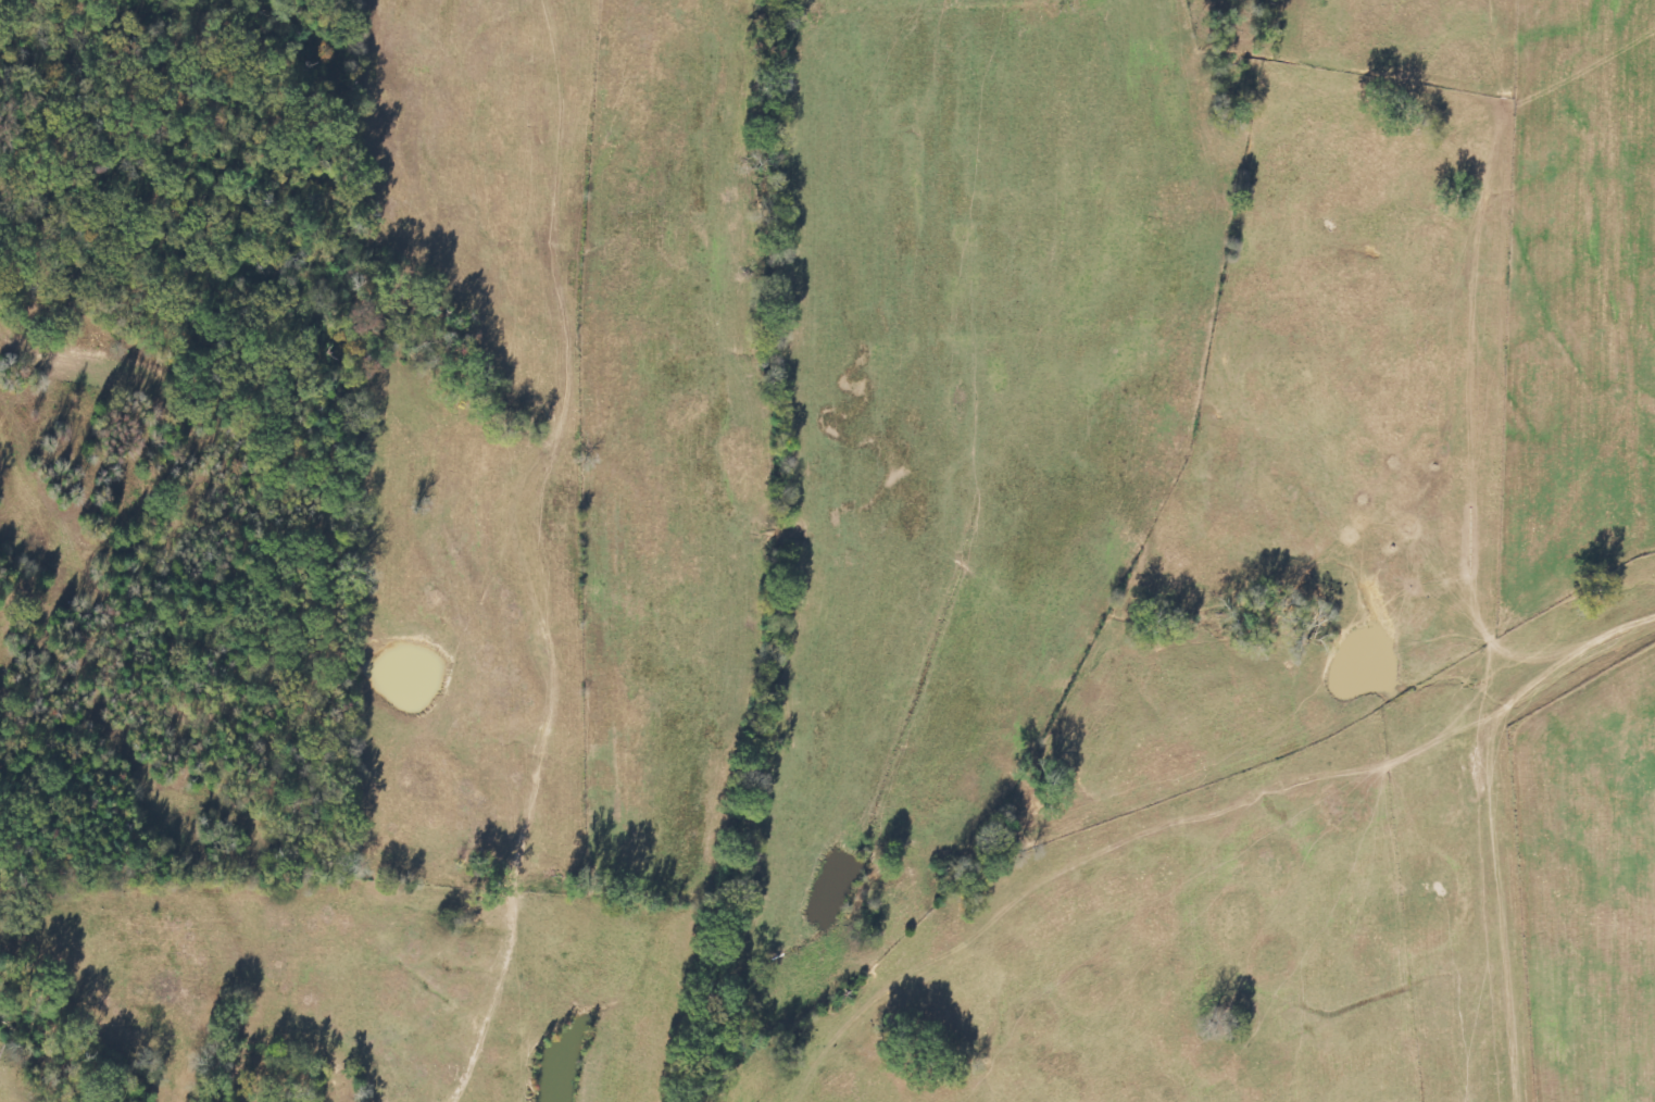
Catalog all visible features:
road: (1506, 827)

